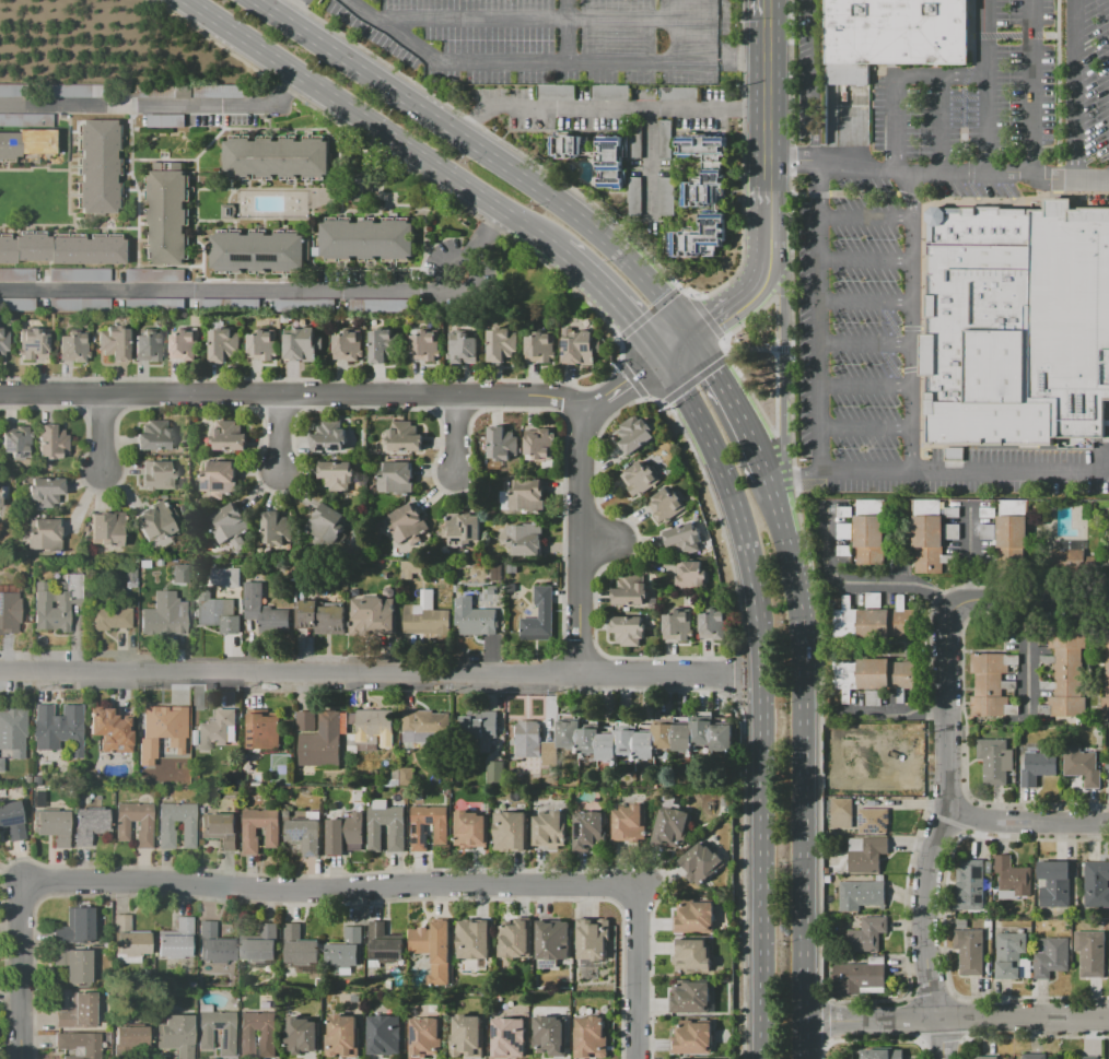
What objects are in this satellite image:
road: (293, 8)
road: (767, 11)
road: (545, 24)
road: (568, 31)
road: (713, 32)
building: (892, 35)
road: (544, 63)
road: (891, 78)
building: (8, 90)
building: (73, 90)
building: (132, 90)
building: (211, 91)
road: (985, 91)
road: (1032, 91)
building: (607, 92)
road: (1058, 92)
road: (1073, 92)
building: (676, 93)
road: (767, 101)
road: (610, 103)
road: (160, 104)
building: (25, 119)
building: (164, 120)
road: (374, 123)
road: (938, 128)
building: (26, 144)
building: (565, 144)
road: (490, 150)
building: (277, 157)
road: (646, 157)
building: (607, 161)
road: (790, 162)
road: (821, 162)
building: (97, 165)
building: (704, 169)
road: (1048, 183)
building: (633, 195)
building: (664, 196)
road: (909, 199)
road: (767, 201)
building: (166, 217)
road: (820, 220)
road: (483, 231)
building: (698, 237)
parking lot: (845, 237)
building: (365, 239)
building: (63, 248)
building: (260, 251)
road: (864, 261)
road: (440, 264)
building: (15, 274)
building: (78, 274)
road: (466, 287)
road: (748, 291)
road: (219, 292)
road: (616, 294)
road: (864, 302)
building: (153, 303)
building: (15, 304)
building: (77, 304)
building: (302, 304)
building: (1071, 319)
building: (982, 328)
traffic signals: (691, 333)
building: (113, 342)
road: (864, 342)
building: (31, 343)
road: (677, 343)
building: (3, 344)
building: (185, 344)
building: (301, 344)
building: (223, 345)
building: (261, 345)
building: (347, 345)
building: (383, 345)
building: (424, 345)
building: (501, 345)
road: (785, 345)
building: (73, 346)
building: (149, 346)
building: (539, 346)
building: (462, 348)
building: (579, 349)
traffic signals: (664, 354)
road: (634, 375)
traffic signals: (632, 377)
road: (864, 388)
road: (293, 396)
road: (594, 403)
road: (729, 404)
road: (864, 430)
road: (104, 433)
road: (452, 435)
building: (633, 435)
building: (153, 436)
building: (229, 436)
road: (278, 436)
building: (328, 437)
building: (404, 437)
building: (51, 442)
building: (16, 443)
building: (503, 444)
building: (541, 445)
building: (952, 454)
road: (804, 471)
road: (1008, 471)
building: (337, 474)
building: (159, 475)
building: (221, 479)
building: (396, 479)
building: (639, 479)
building: (44, 492)
building: (527, 496)
road: (789, 502)
road: (779, 503)
building: (665, 505)
road: (734, 508)
building: (155, 521)
building: (326, 523)
building: (407, 525)
building: (230, 526)
building: (106, 529)
building: (275, 529)
building: (462, 530)
building: (868, 531)
building: (43, 536)
building: (926, 536)
building: (1011, 536)
building: (682, 539)
building: (525, 540)
road: (600, 540)
road: (582, 542)
building: (1075, 558)
building: (412, 569)
building: (176, 573)
building: (498, 573)
building: (129, 575)
building: (690, 575)
building: (226, 577)
road: (895, 584)
building: (629, 591)
building: (457, 595)
road: (1030, 598)
building: (56, 602)
building: (264, 610)
building: (9, 613)
building: (219, 613)
building: (373, 615)
building: (320, 616)
building: (425, 616)
building: (110, 617)
building: (539, 617)
building: (164, 619)
building: (477, 621)
building: (875, 621)
building: (713, 624)
building: (676, 625)
building: (628, 631)
road: (291, 670)
road: (662, 673)
building: (1065, 673)
building: (1105, 673)
road: (752, 675)
building: (872, 676)
building: (993, 684)
building: (305, 720)
building: (12, 723)
building: (160, 723)
building: (424, 725)
building: (55, 726)
building: (215, 729)
building: (110, 730)
building: (369, 730)
building: (479, 730)
building: (262, 732)
building: (646, 739)
building: (322, 741)
building: (533, 743)
building: (180, 756)
building: (994, 761)
building: (1, 765)
building: (1038, 765)
building: (871, 766)
building: (1082, 766)
building: (495, 773)
building: (408, 777)
road: (801, 795)
building: (841, 814)
building: (872, 821)
road: (1030, 821)
building: (12, 823)
building: (629, 823)
building: (89, 825)
building: (121, 825)
building: (164, 825)
building: (51, 826)
building: (672, 827)
building: (220, 828)
building: (374, 828)
building: (418, 828)
building: (549, 829)
building: (469, 831)
building: (510, 831)
building: (587, 831)
building: (249, 832)
building: (305, 833)
building: (345, 833)
road: (941, 833)
building: (865, 852)
building: (700, 863)
road: (764, 867)
road: (334, 874)
building: (1011, 875)
building: (969, 883)
building: (1053, 884)
building: (1096, 884)
road: (330, 890)
building: (861, 895)
road: (329, 904)
building: (693, 916)
building: (74, 927)
building: (866, 934)
building: (472, 939)
building: (592, 939)
building: (176, 940)
building: (551, 940)
building: (128, 941)
building: (514, 942)
building: (214, 944)
building: (260, 945)
building: (383, 945)
building: (299, 946)
building: (346, 949)
building: (434, 949)
building: (968, 951)
building: (1089, 953)
building: (1009, 954)
building: (691, 956)
building: (1050, 956)
road: (5, 957)
road: (650, 960)
building: (74, 965)
road: (21, 972)
road: (640, 972)
building: (860, 977)
road: (34, 978)
road: (623, 982)
building: (690, 996)
building: (78, 1011)
road: (1022, 1019)
road: (867, 1020)
building: (203, 1033)
building: (245, 1034)
building: (175, 1035)
building: (300, 1035)
building: (383, 1035)
building: (549, 1035)
building: (423, 1036)
building: (466, 1036)
building: (506, 1036)
building: (342, 1037)
building: (588, 1037)
building: (692, 1037)
building: (129, 1039)
building: (79, 1044)
building: (882, 1054)
building: (1032, 1056)
building: (1089, 1057)
building: (985, 1058)

